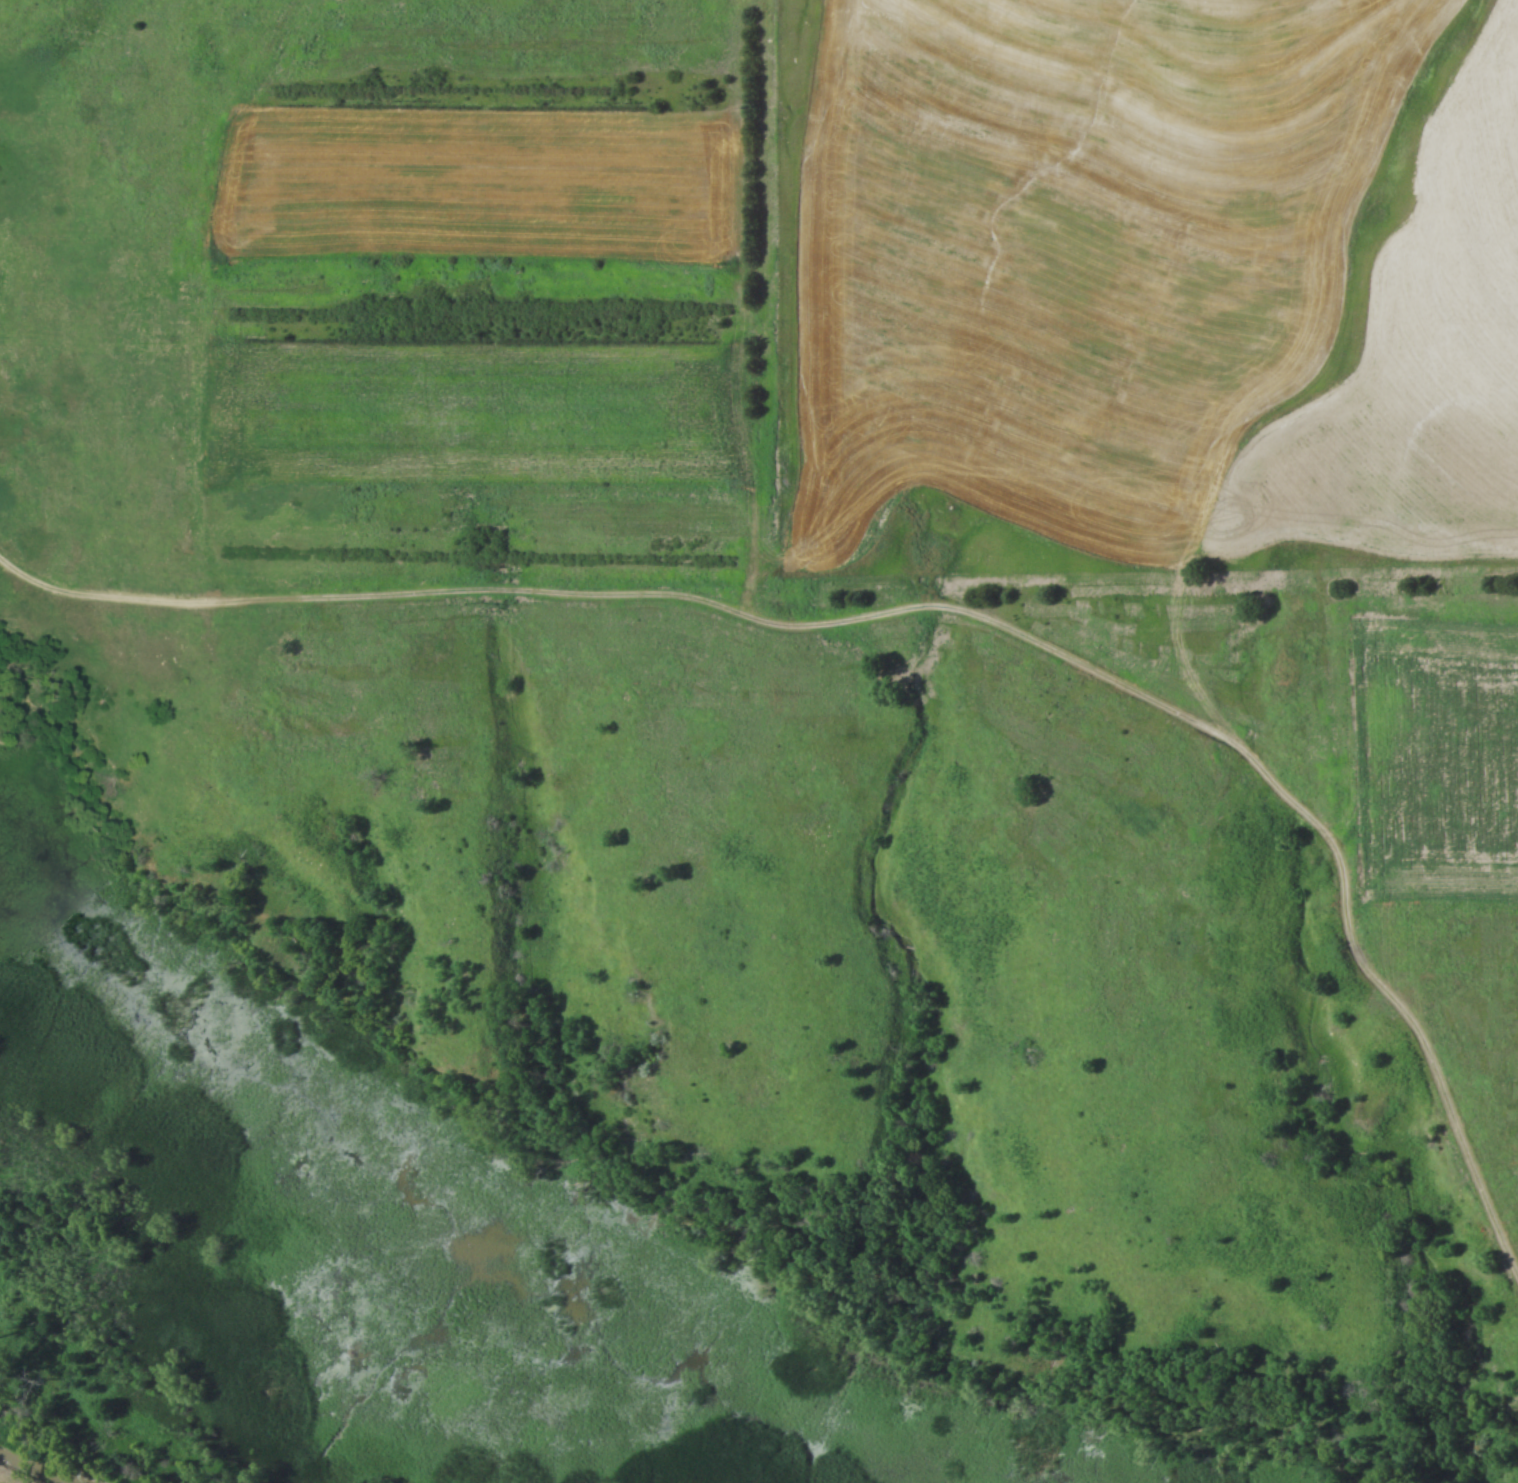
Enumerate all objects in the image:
crop: (489, 183)
crop: (1077, 251)
crop: (1418, 355)
crop: (474, 410)
road: (928, 604)
crop: (1439, 755)
park: (668, 851)

